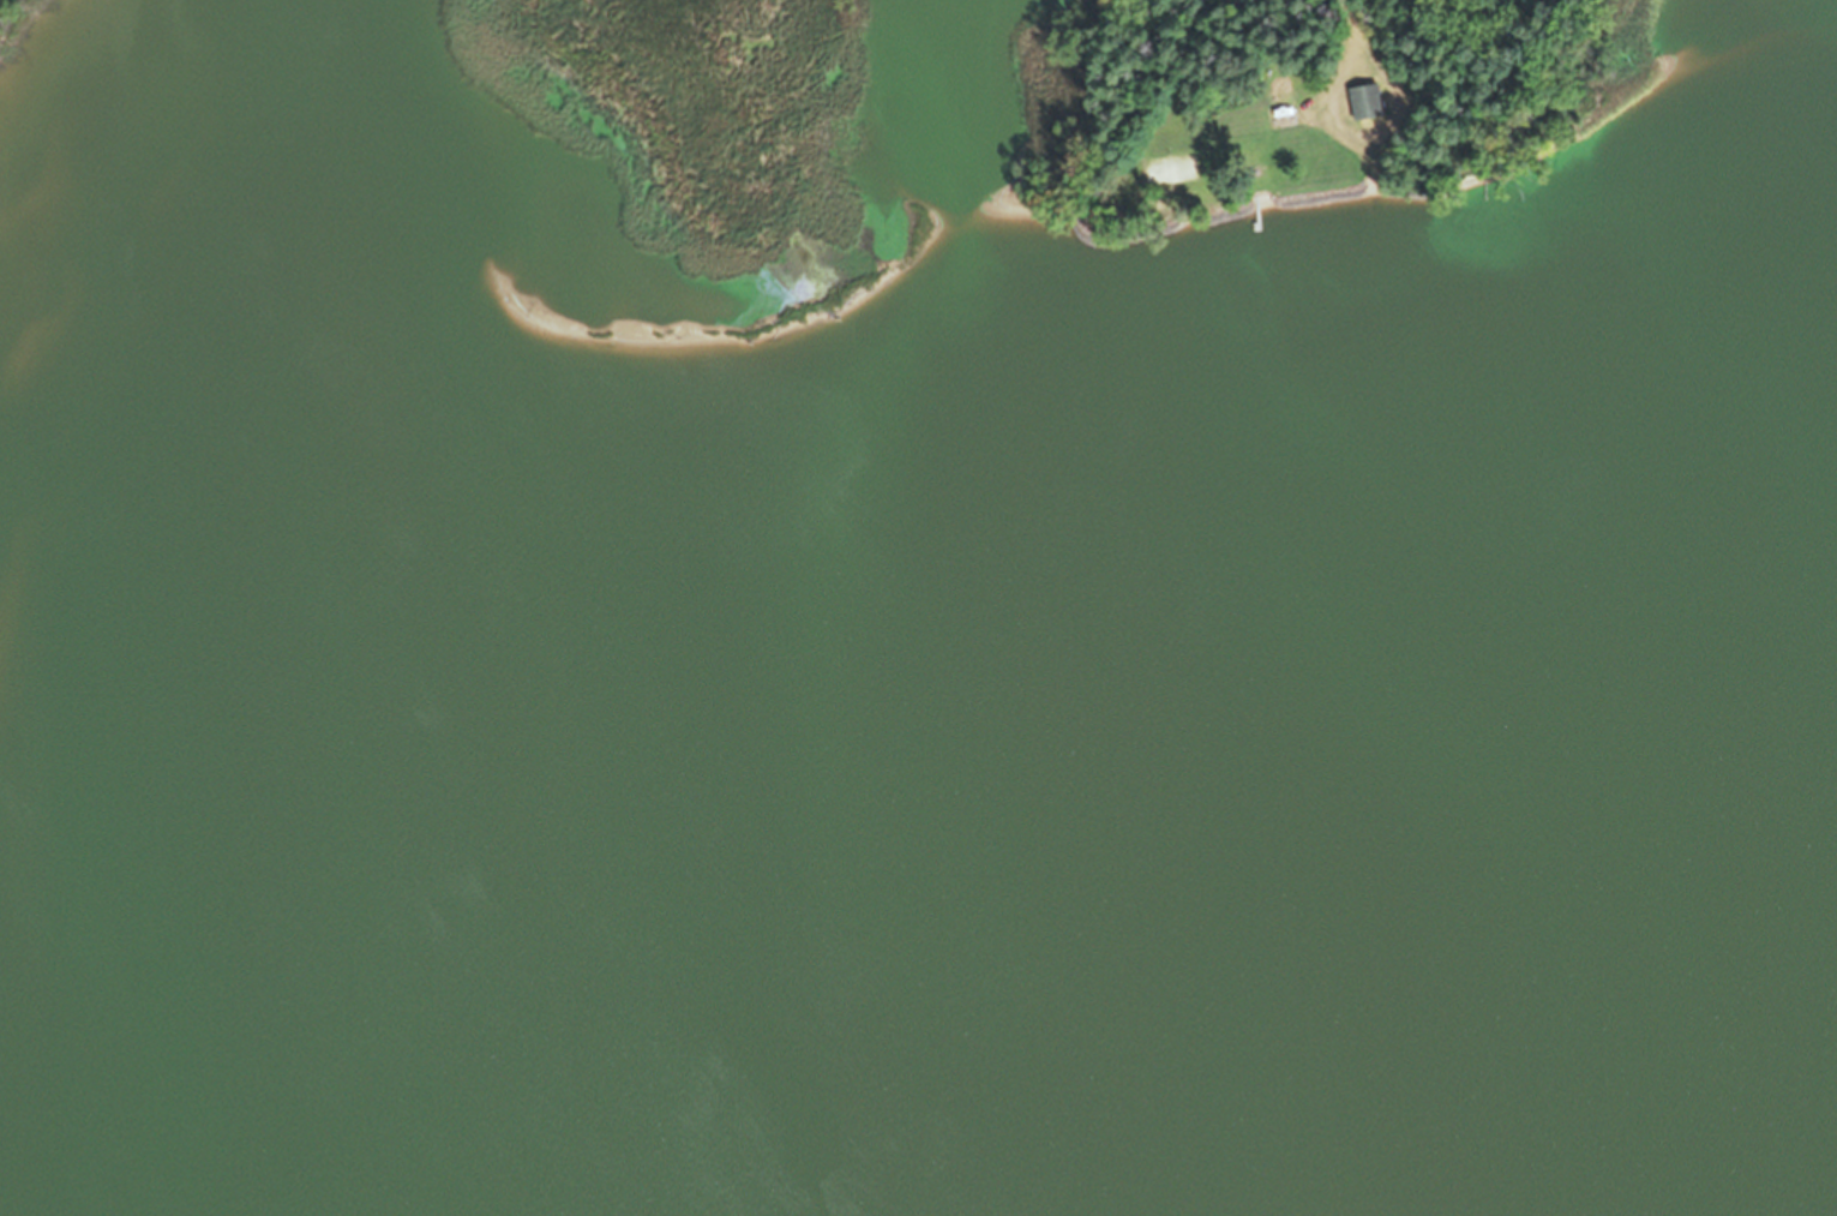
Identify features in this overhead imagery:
building: (1364, 101)

